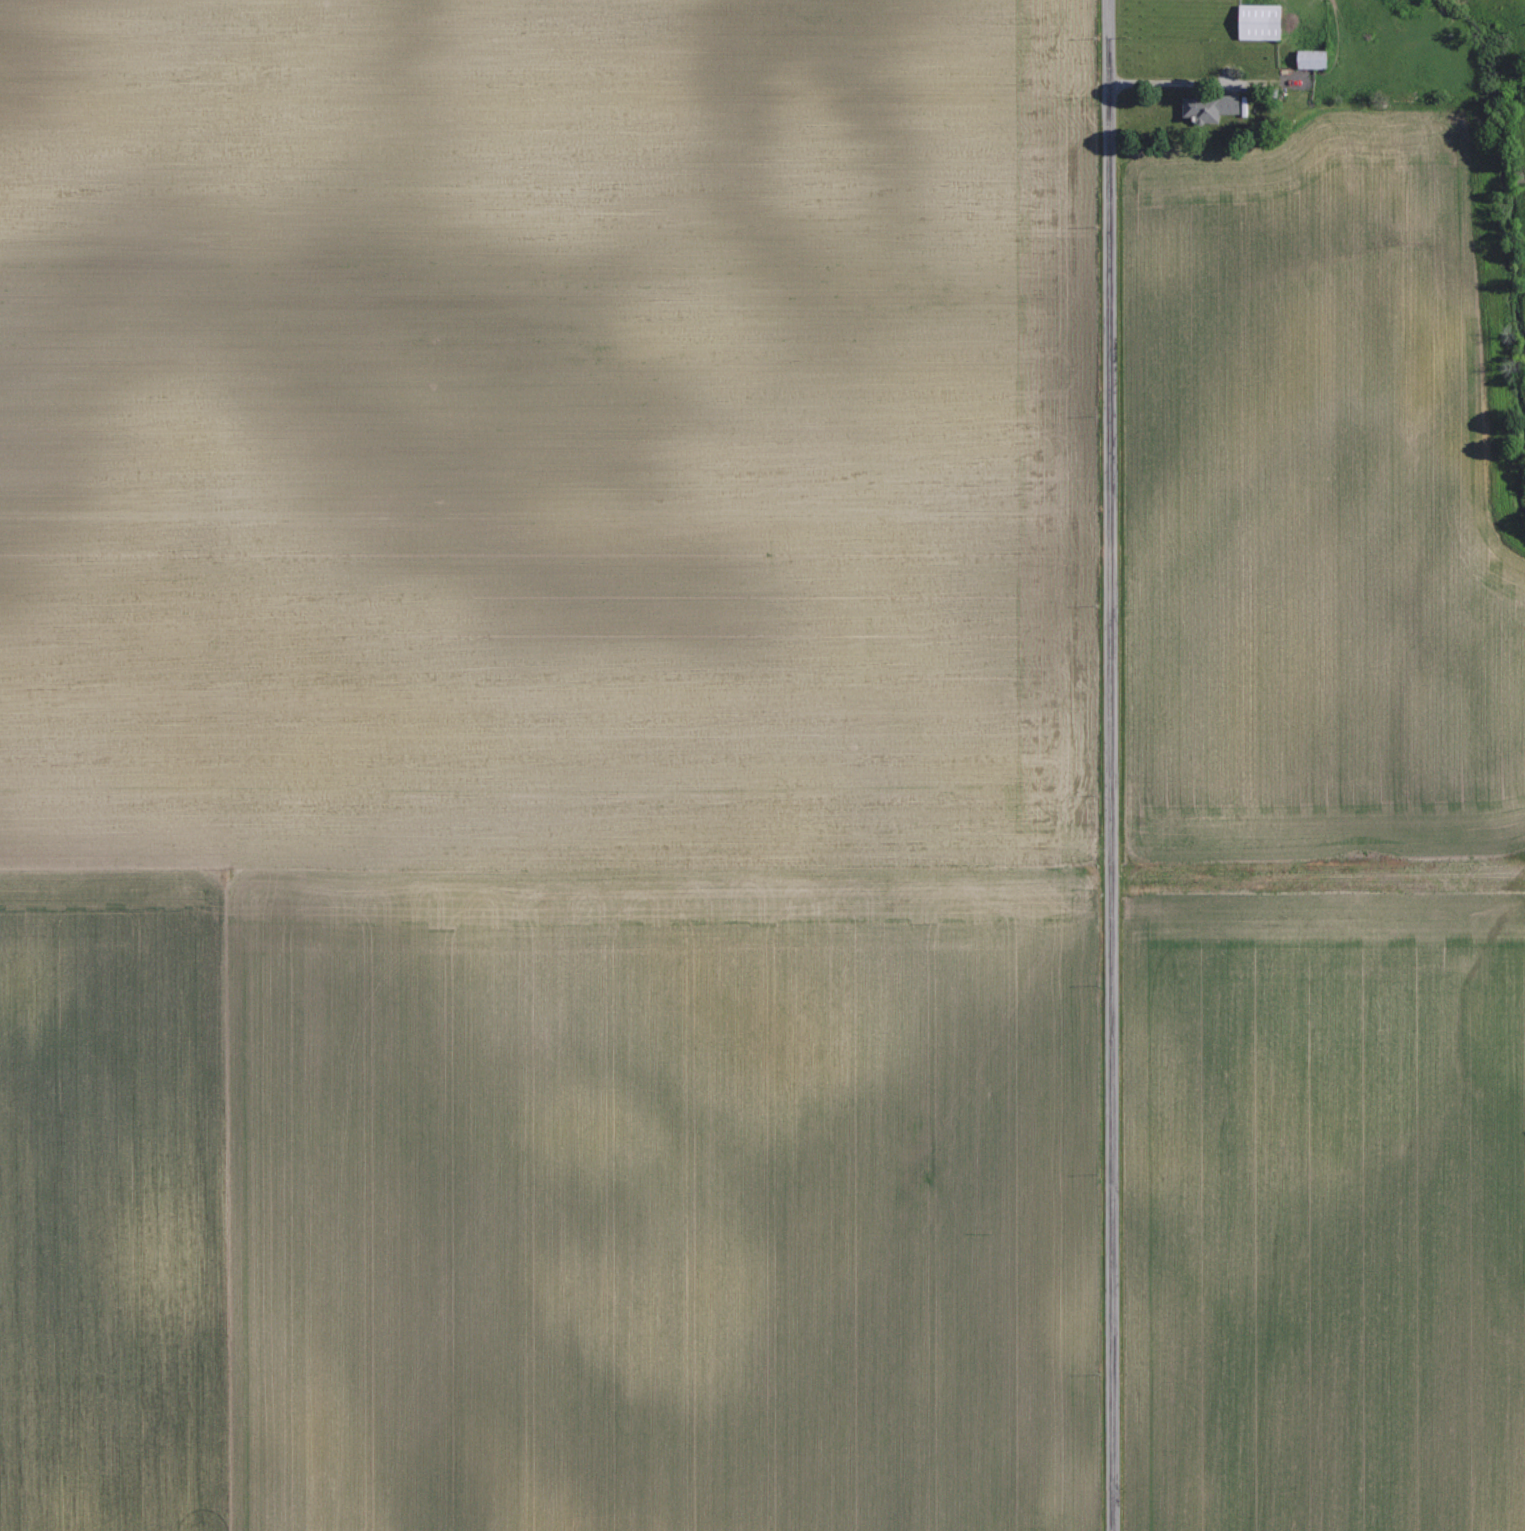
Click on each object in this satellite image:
building: (1264, 22)
road: (1109, 765)

